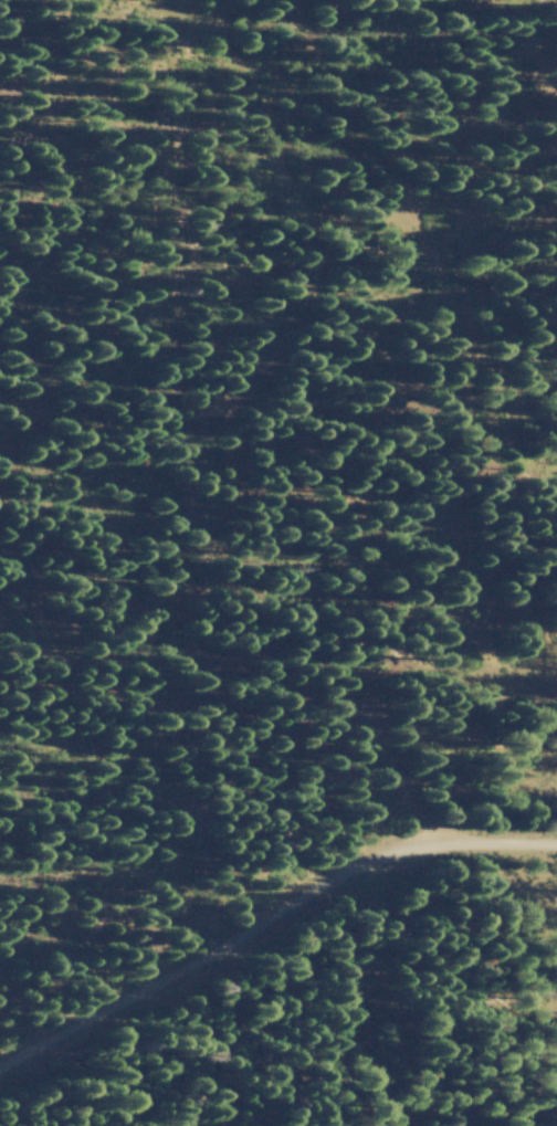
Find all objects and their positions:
road: (261, 901)

